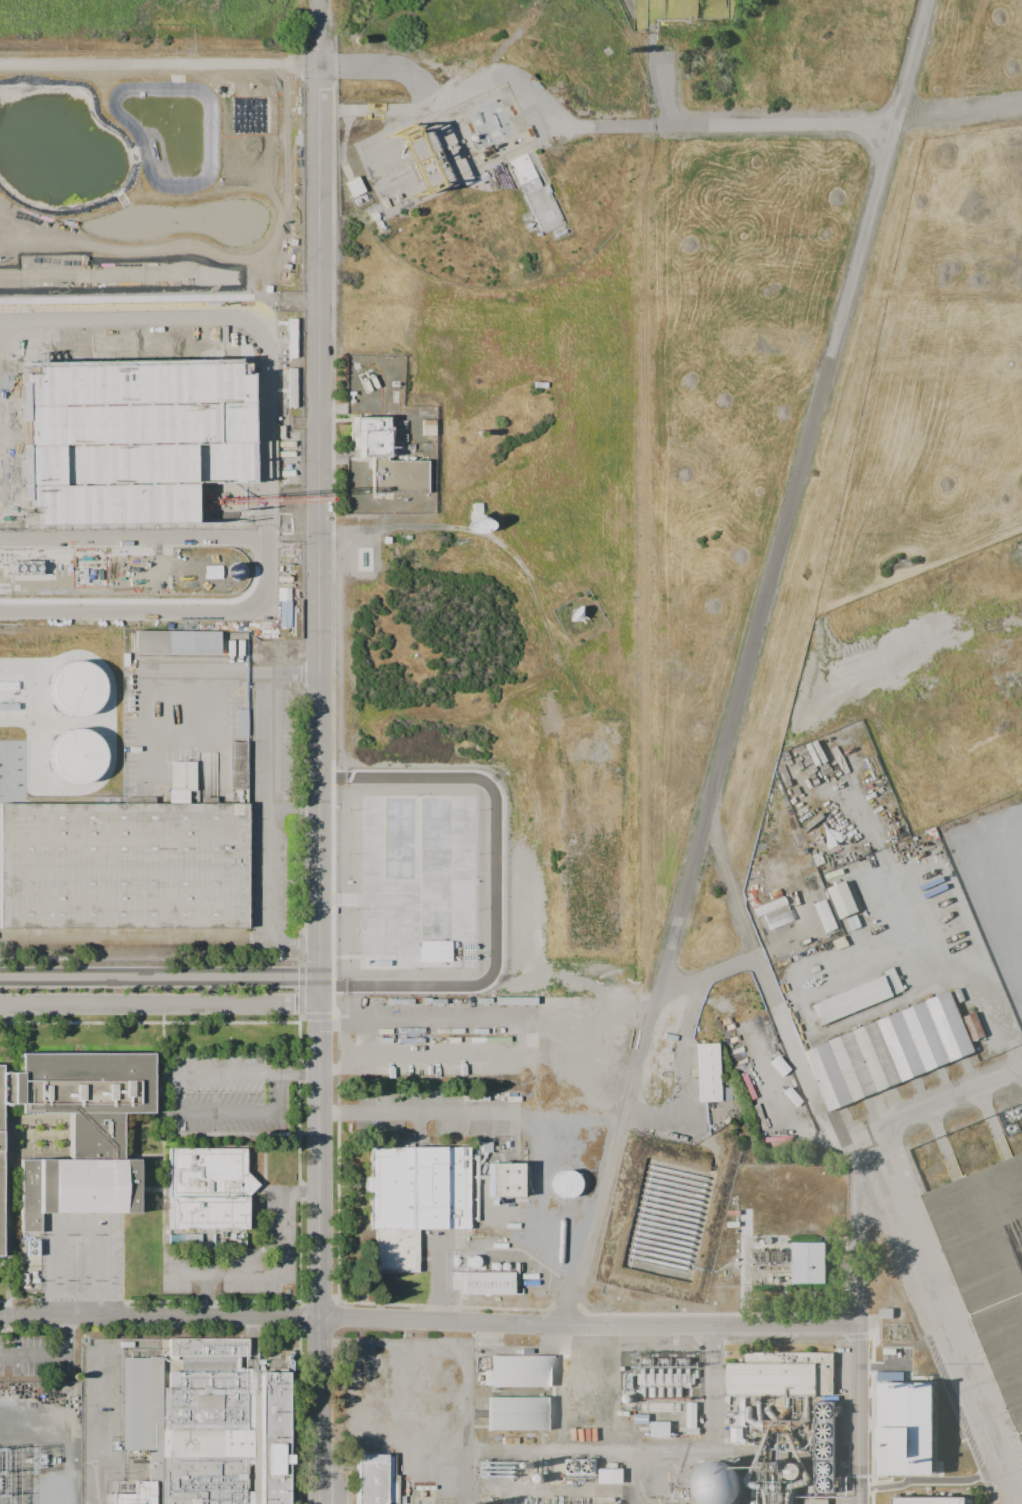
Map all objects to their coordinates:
road: (320, 34)
road: (160, 69)
road: (958, 115)
building: (492, 125)
road: (588, 129)
building: (354, 187)
building: (538, 192)
building: (185, 209)
building: (96, 211)
building: (35, 212)
building: (8, 213)
building: (181, 262)
building: (4, 263)
building: (125, 263)
road: (156, 316)
road: (13, 396)
road: (257, 412)
building: (427, 427)
building: (124, 438)
parking garage: (124, 438)
building: (385, 457)
road: (258, 488)
road: (267, 495)
road: (133, 537)
road: (133, 611)
building: (176, 641)
road: (749, 665)
building: (77, 687)
storage tank: (77, 687)
building: (240, 722)
building: (76, 756)
storage tank: (76, 756)
road: (321, 786)
road: (298, 808)
road: (273, 810)
building: (123, 868)
road: (731, 896)
building: (842, 899)
building: (768, 905)
building: (824, 914)
road: (161, 979)
building: (852, 993)
road: (161, 1006)
building: (973, 1024)
building: (888, 1045)
road: (299, 1072)
building: (706, 1072)
road: (227, 1074)
road: (278, 1092)
road: (177, 1094)
parking lot: (225, 1095)
road: (941, 1111)
road: (228, 1112)
road: (474, 1115)
road: (828, 1124)
building: (86, 1136)
building: (2, 1181)
building: (503, 1181)
building: (564, 1185)
storage tank: (564, 1185)
building: (208, 1191)
building: (416, 1201)
building: (668, 1212)
storage tank: (668, 1212)
road: (76, 1228)
building: (29, 1244)
building: (812, 1258)
parking lot: (239, 1260)
parking lot: (82, 1261)
building: (986, 1261)
road: (279, 1270)
road: (49, 1273)
road: (102, 1273)
building: (485, 1285)
road: (430, 1323)
road: (860, 1332)
building: (522, 1373)
building: (782, 1376)
road: (599, 1403)
building: (521, 1415)
building: (640, 1418)
building: (690, 1418)
road: (95, 1424)
building: (208, 1427)
building: (659, 1428)
building: (903, 1429)
power substation: (42, 1444)
building: (824, 1449)
road: (706, 1452)
building: (377, 1481)
building: (717, 1485)
storage tank: (717, 1485)
building: (783, 1489)
building: (927, 1496)
building: (817, 1503)

